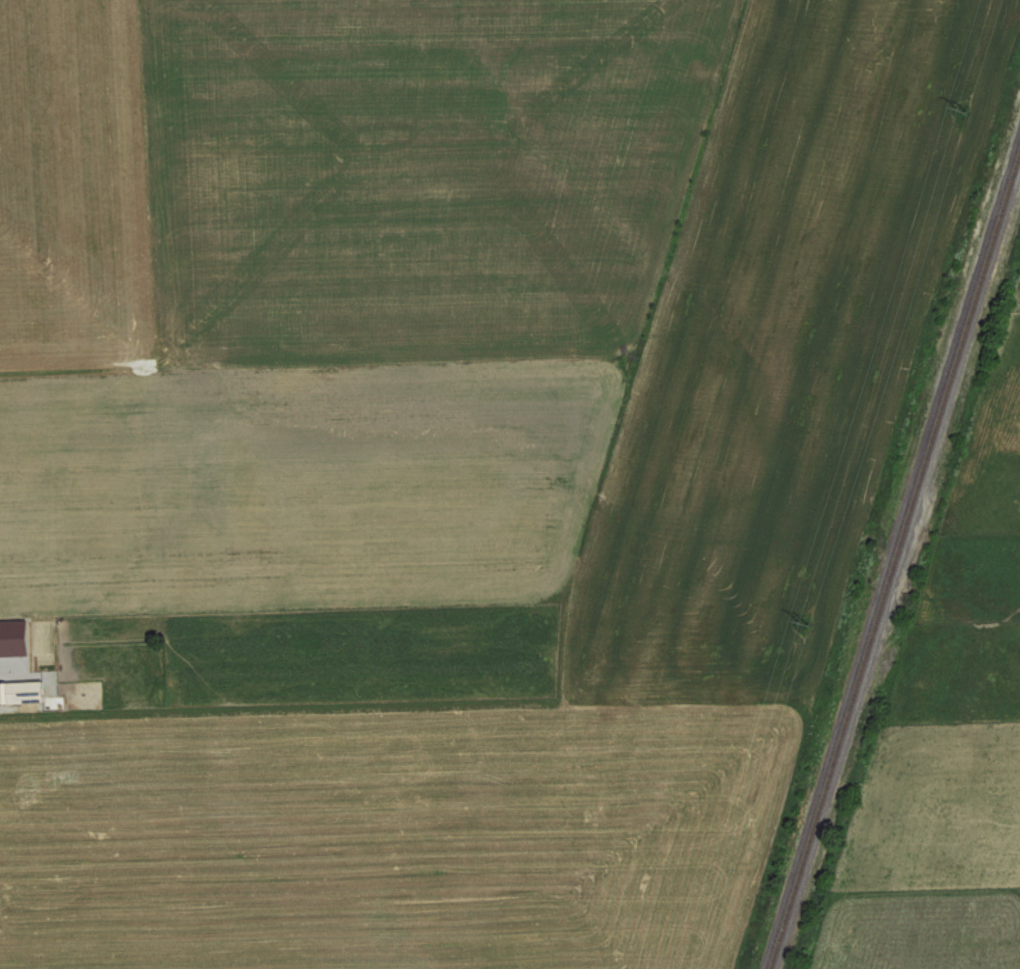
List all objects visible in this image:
power tower: (952, 104)
railway: (890, 554)
power tower: (792, 618)
building: (15, 636)
building: (22, 691)

